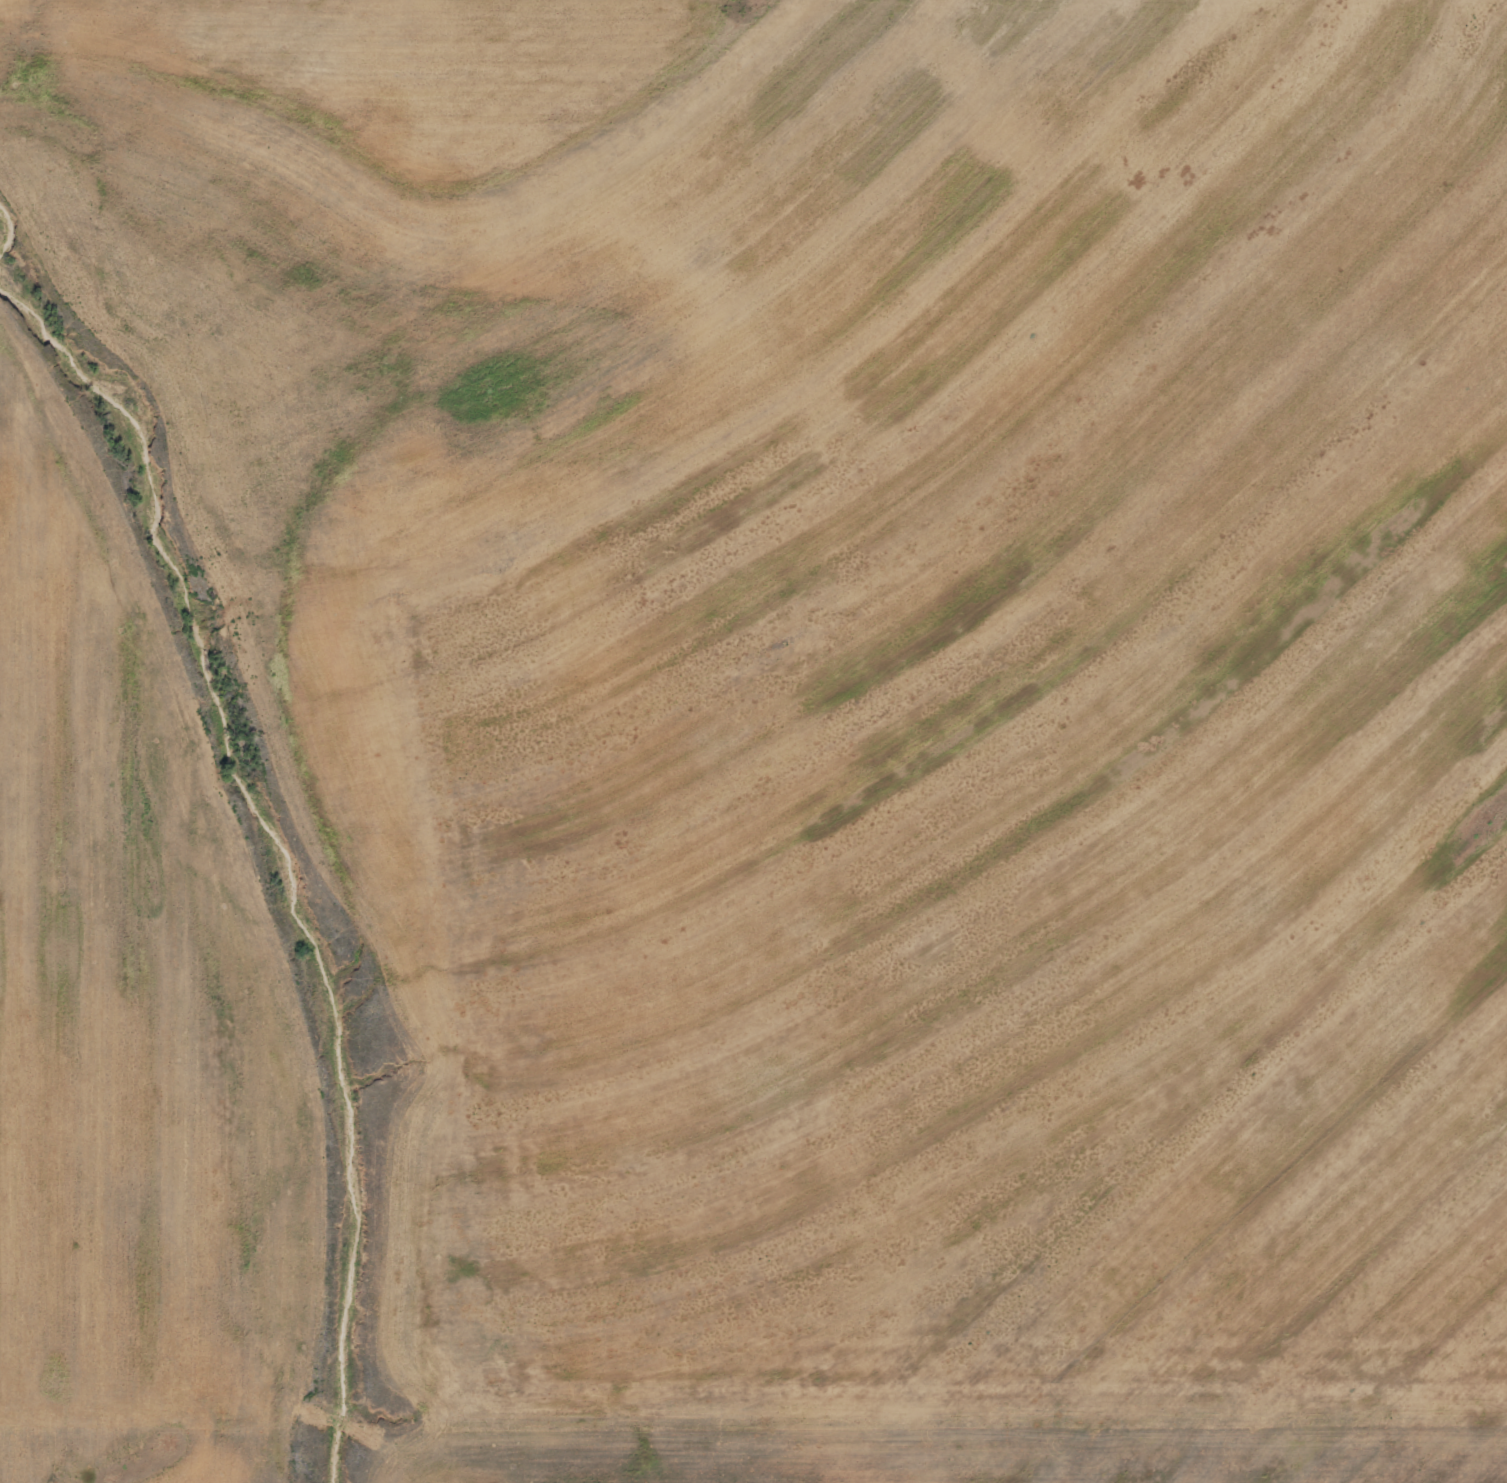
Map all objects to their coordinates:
road: (753, 1444)

